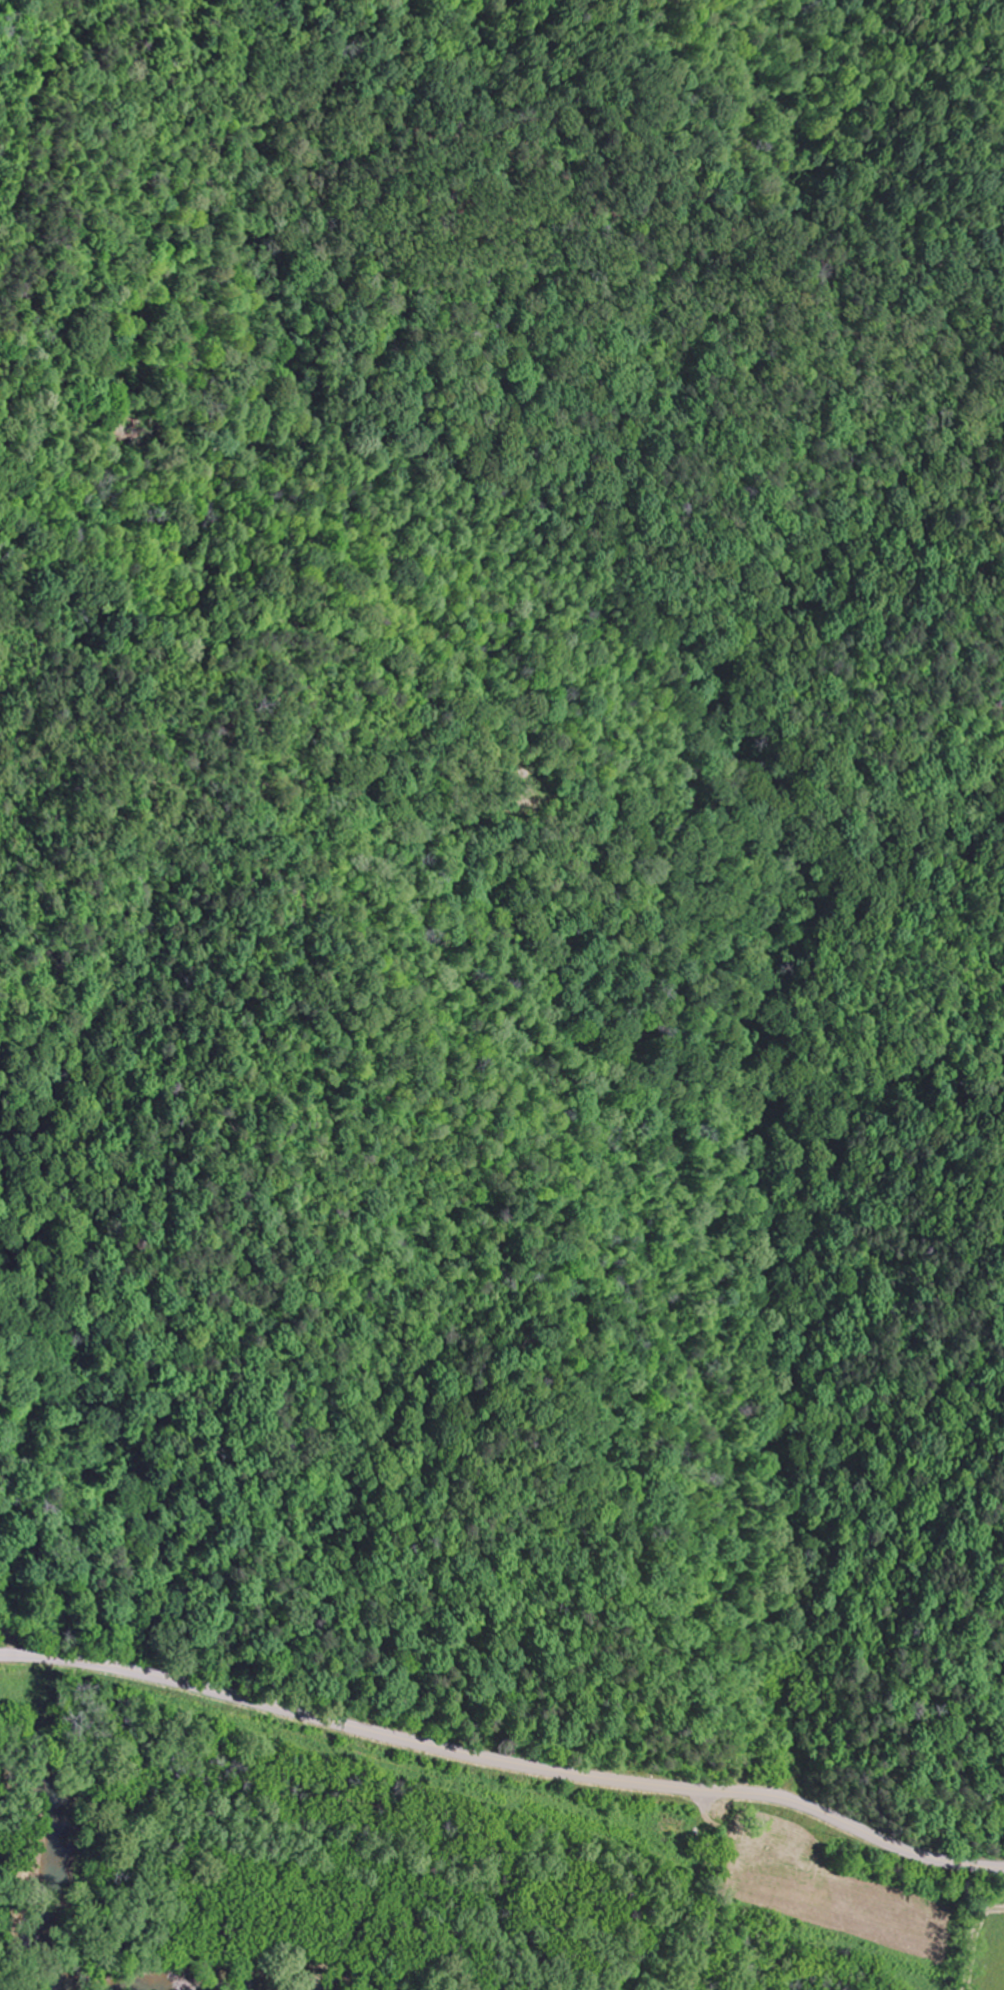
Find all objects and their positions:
road: (503, 1762)
road: (711, 1892)

